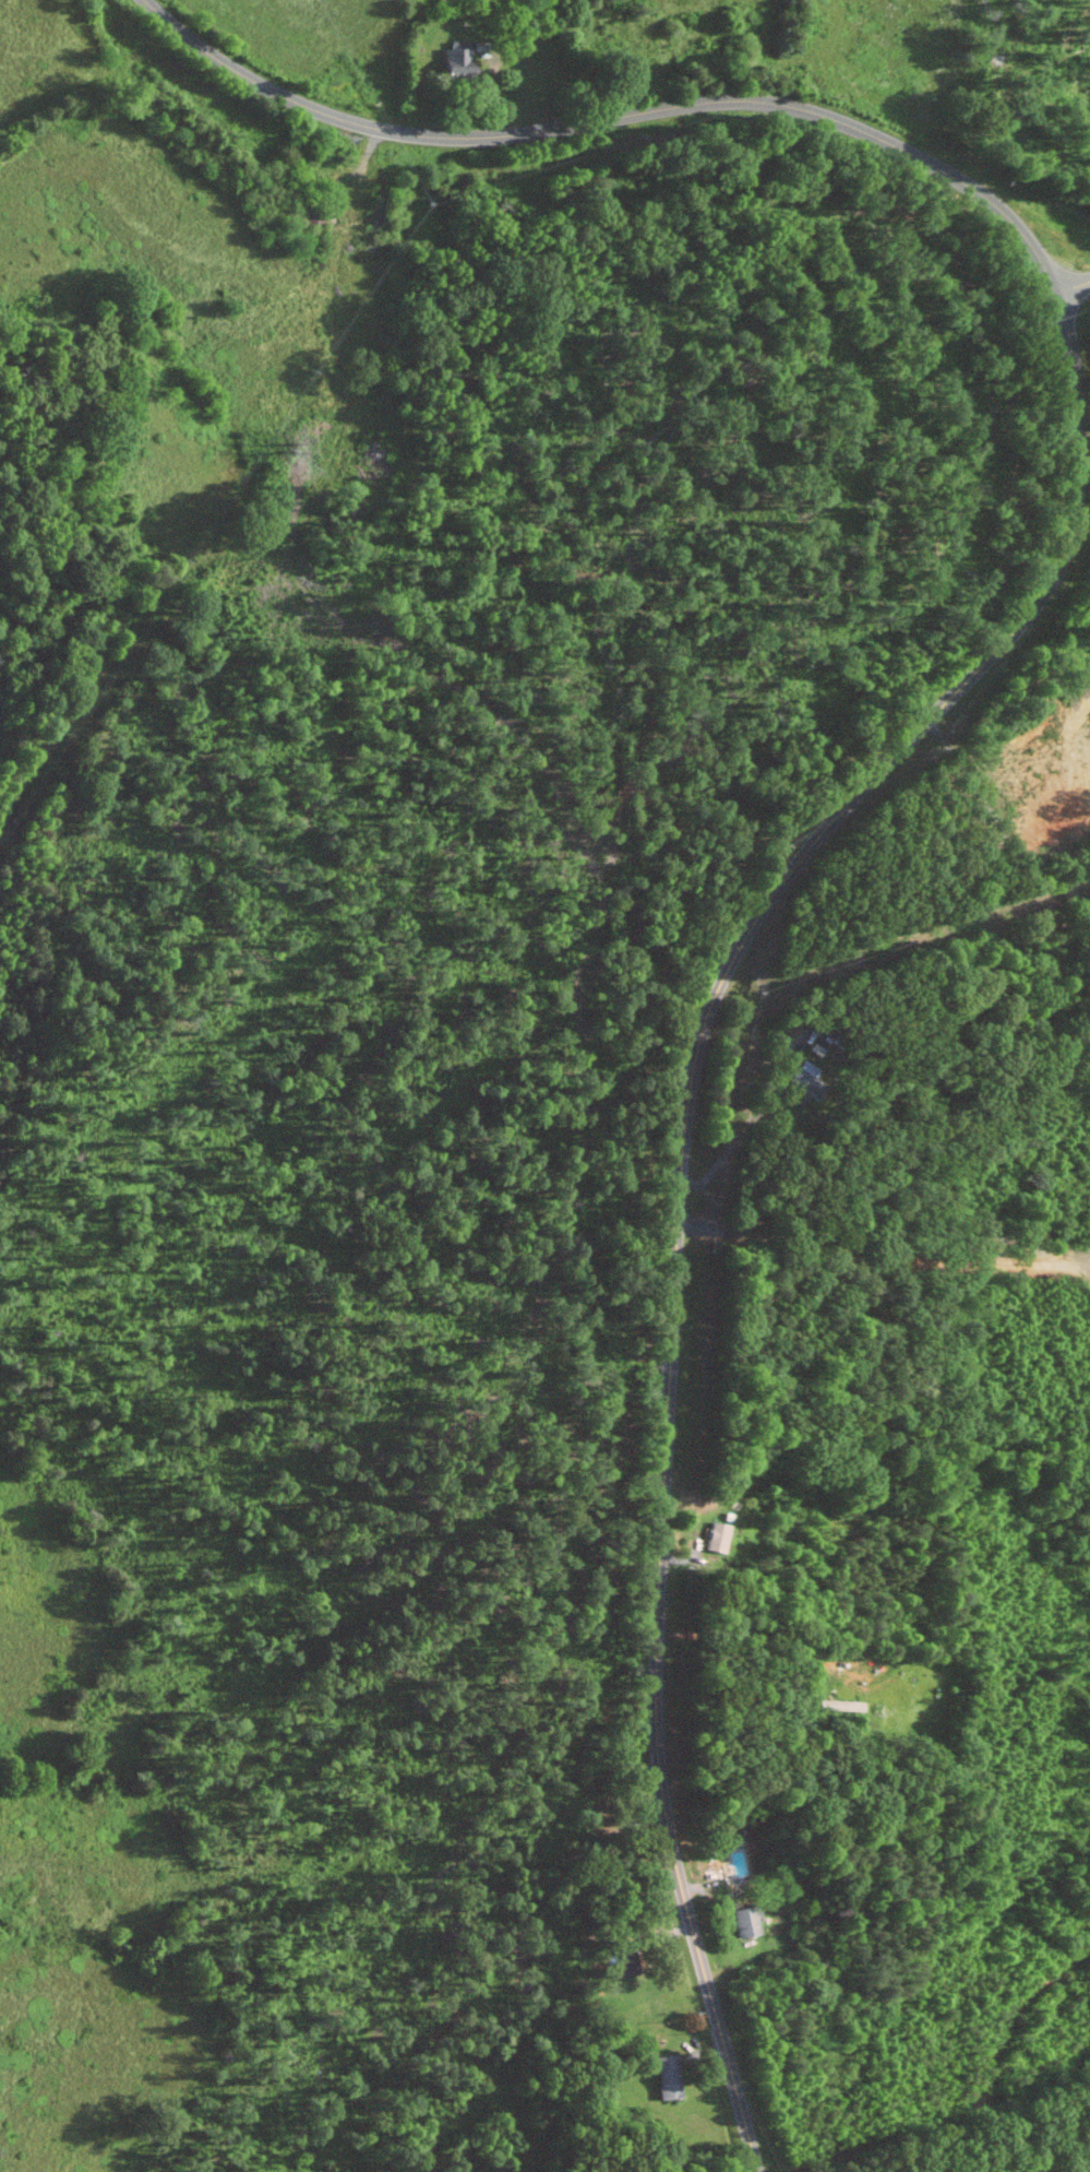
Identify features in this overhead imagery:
building: (453, 60)
road: (1070, 288)
road: (912, 735)
building: (800, 1075)
road: (743, 1130)
building: (716, 1536)
road: (753, 1634)
building: (744, 1921)
building: (668, 2077)

